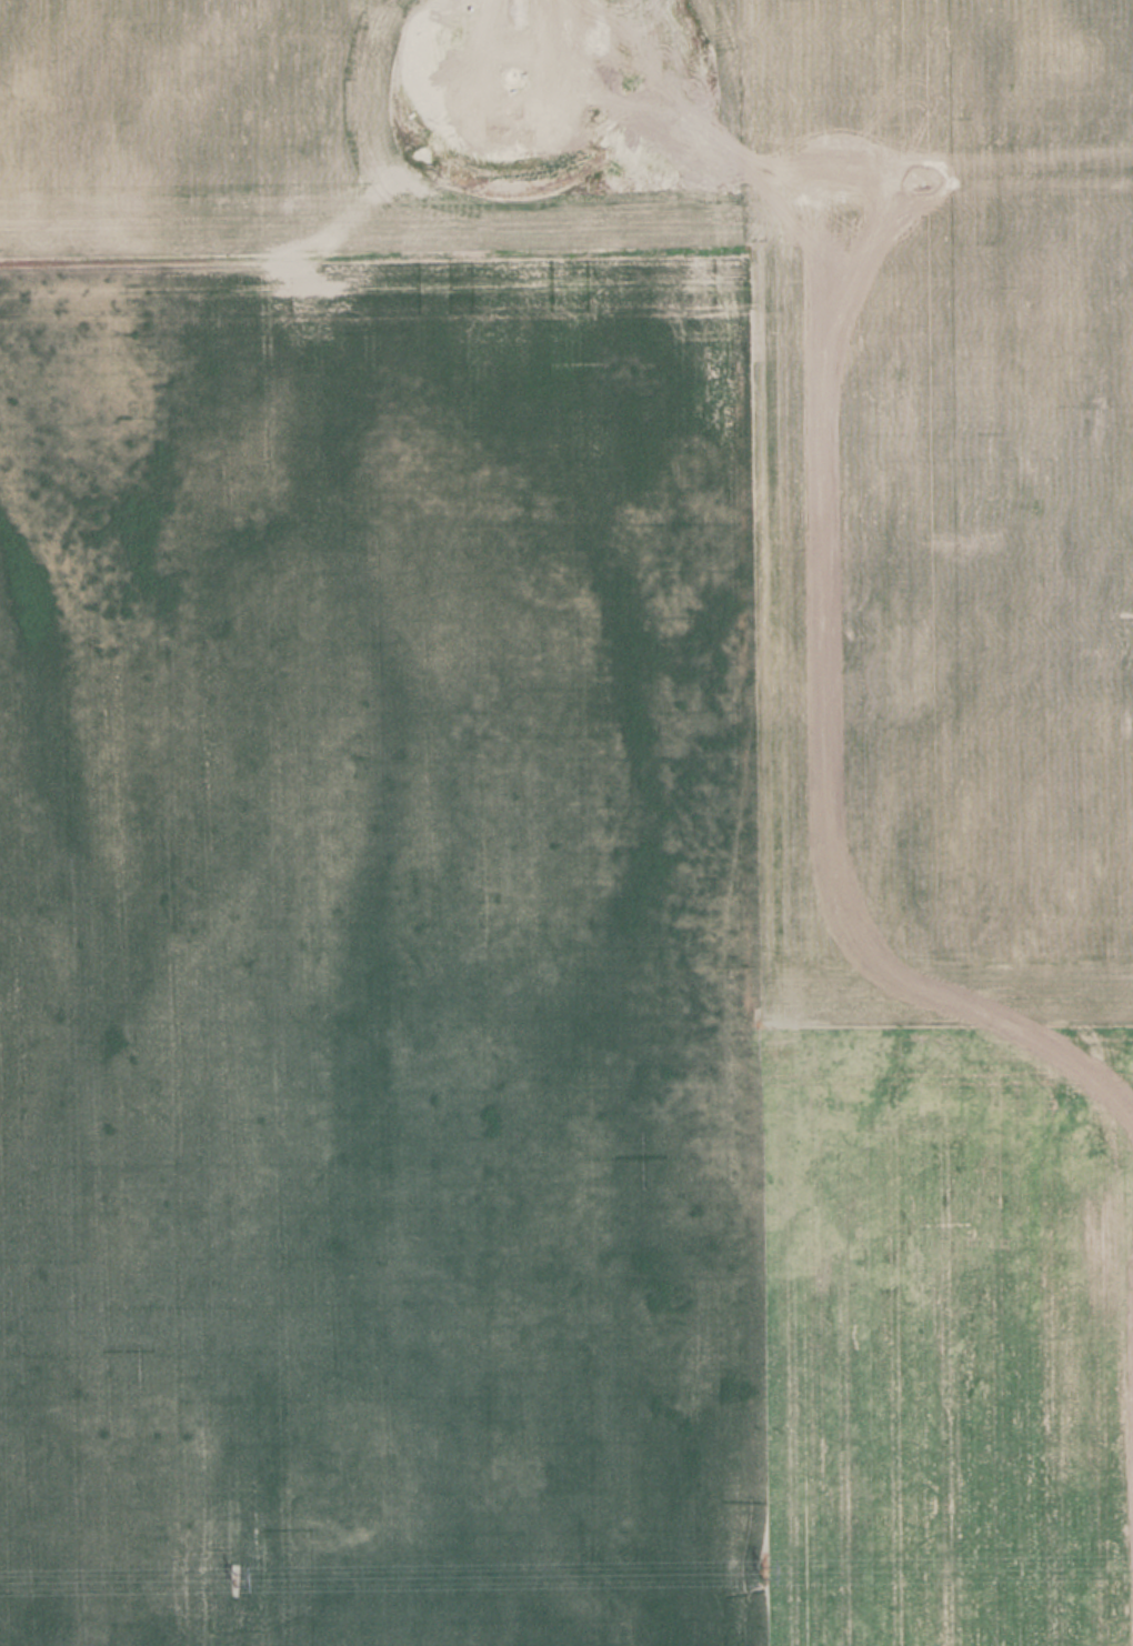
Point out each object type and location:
power tower: (773, 1573)
power tower: (247, 1580)

